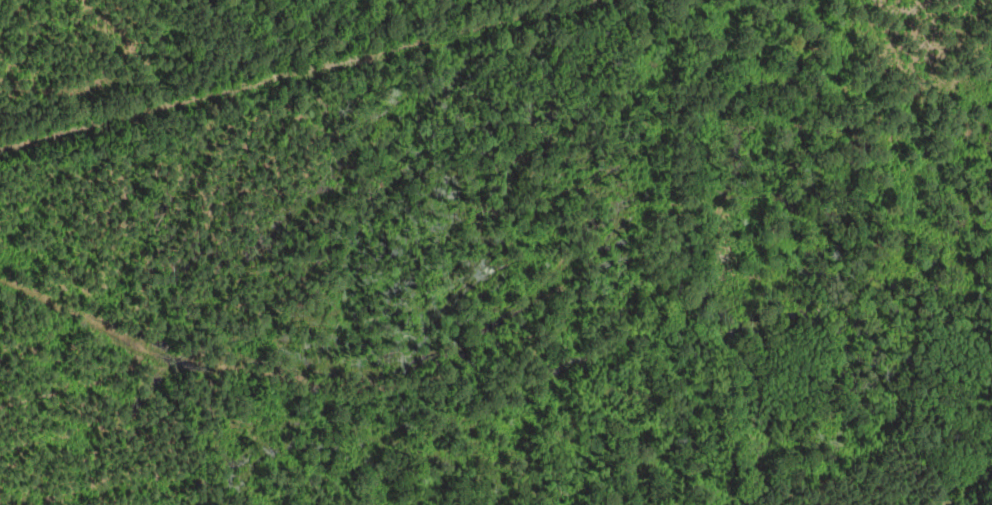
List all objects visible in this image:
railway: (297, 75)

